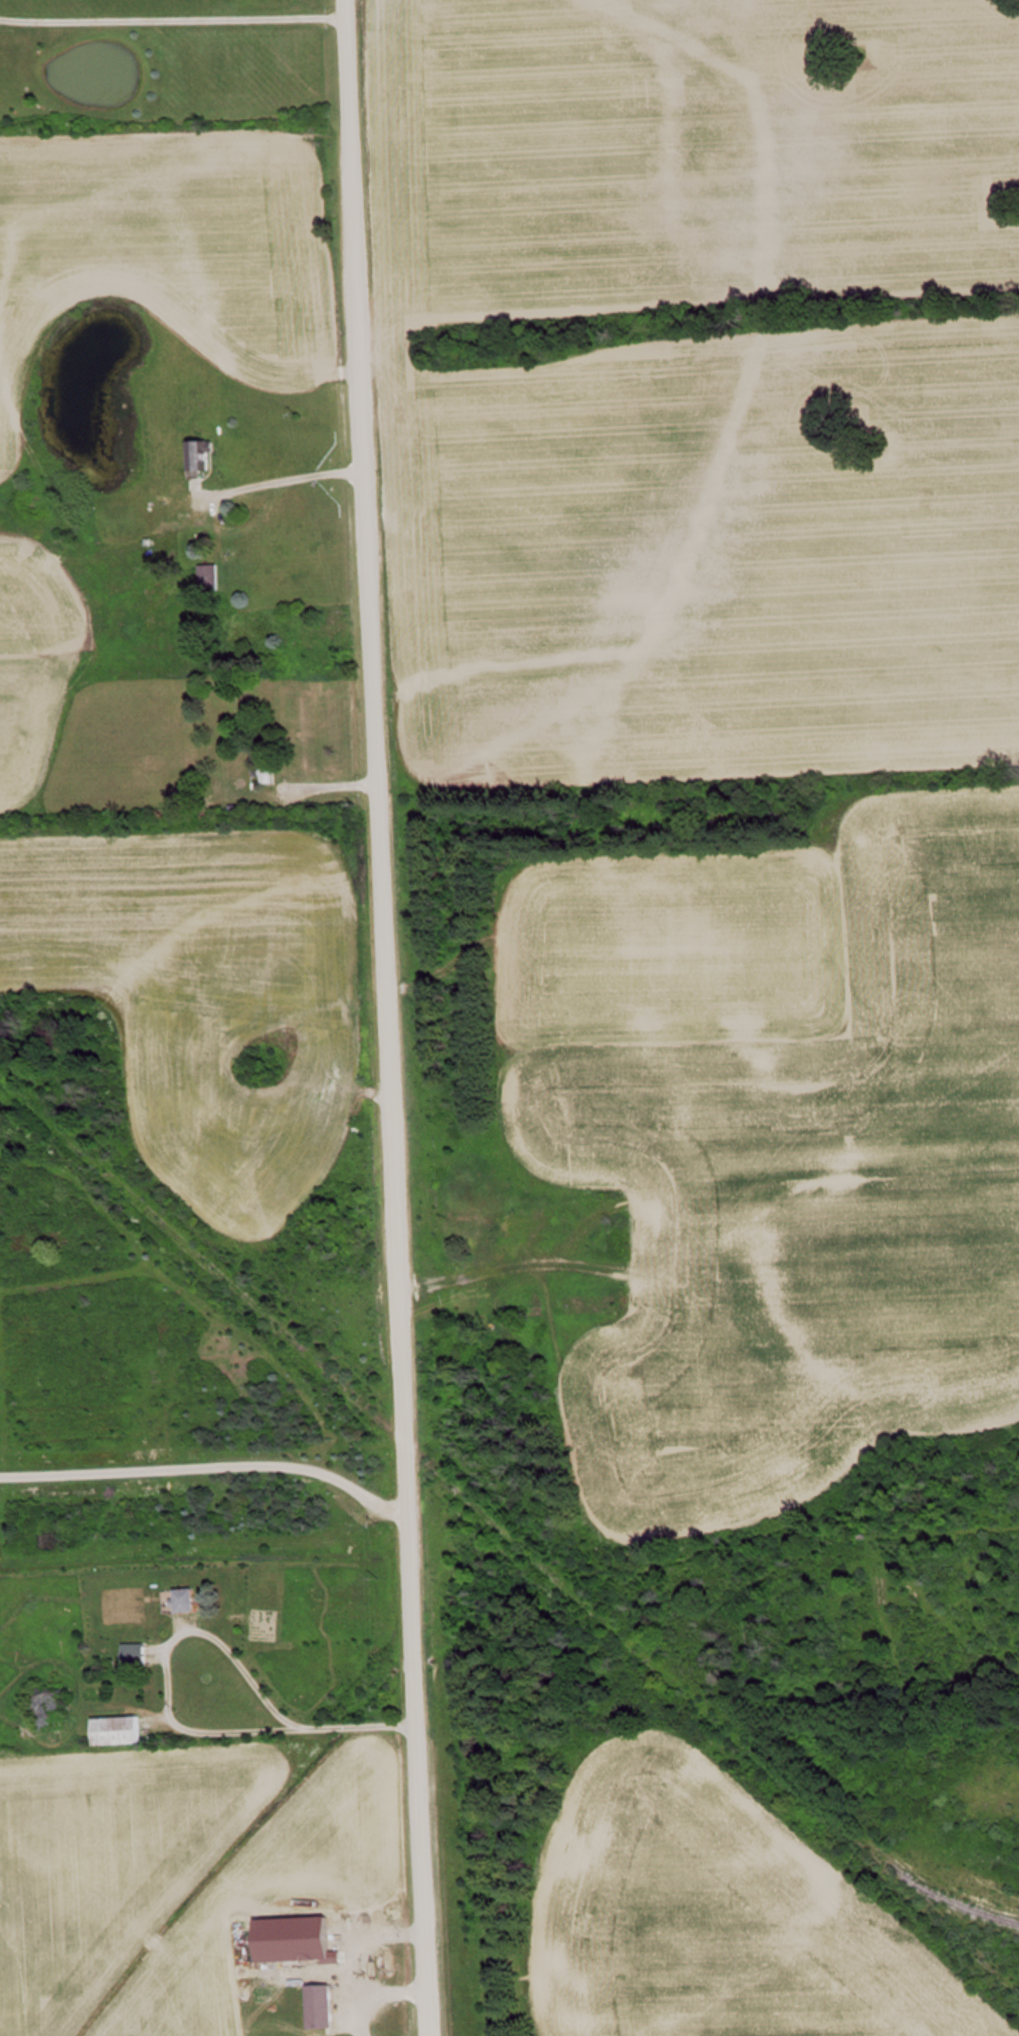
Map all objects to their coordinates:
building: (203, 454)
building: (212, 577)
building: (270, 760)
building: (189, 793)
road: (385, 1017)
railway: (422, 1459)
building: (183, 1600)
building: (56, 1708)
building: (121, 1730)
railway: (929, 1890)
building: (325, 2006)

